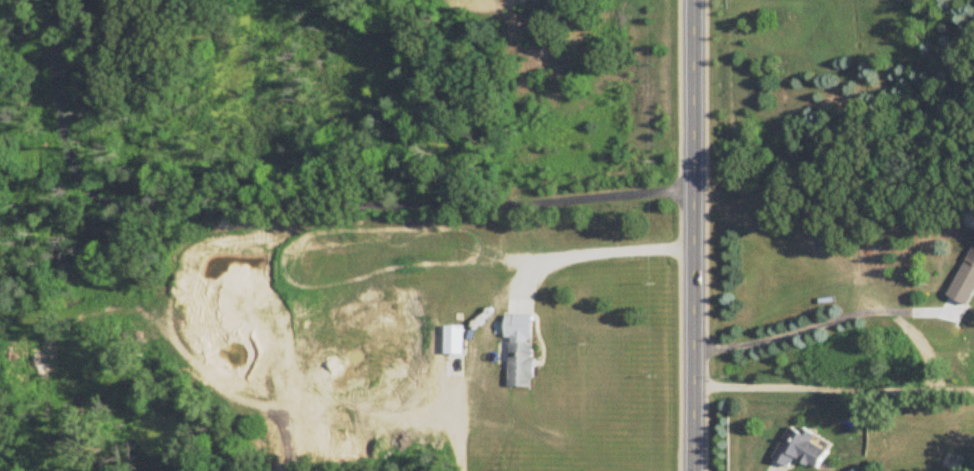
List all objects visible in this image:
road: (291, 207)
building: (968, 216)
road: (693, 235)
road: (607, 251)
building: (965, 282)
road: (828, 320)
building: (455, 341)
building: (522, 366)
road: (833, 388)
road: (551, 443)
building: (800, 450)

